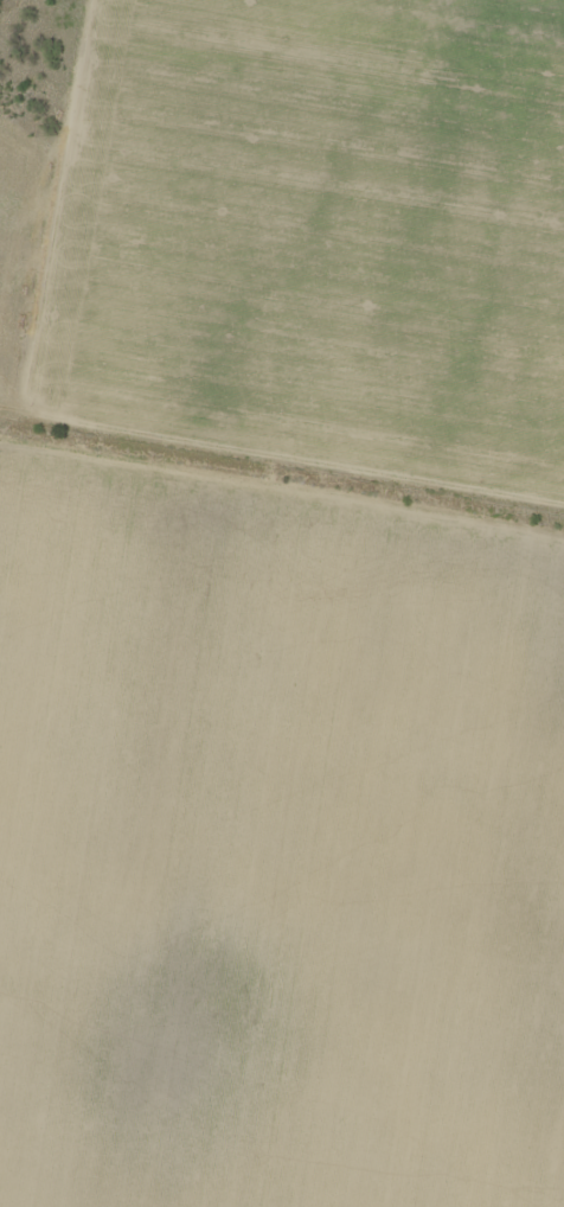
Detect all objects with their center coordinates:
road: (281, 213)
road: (282, 478)

